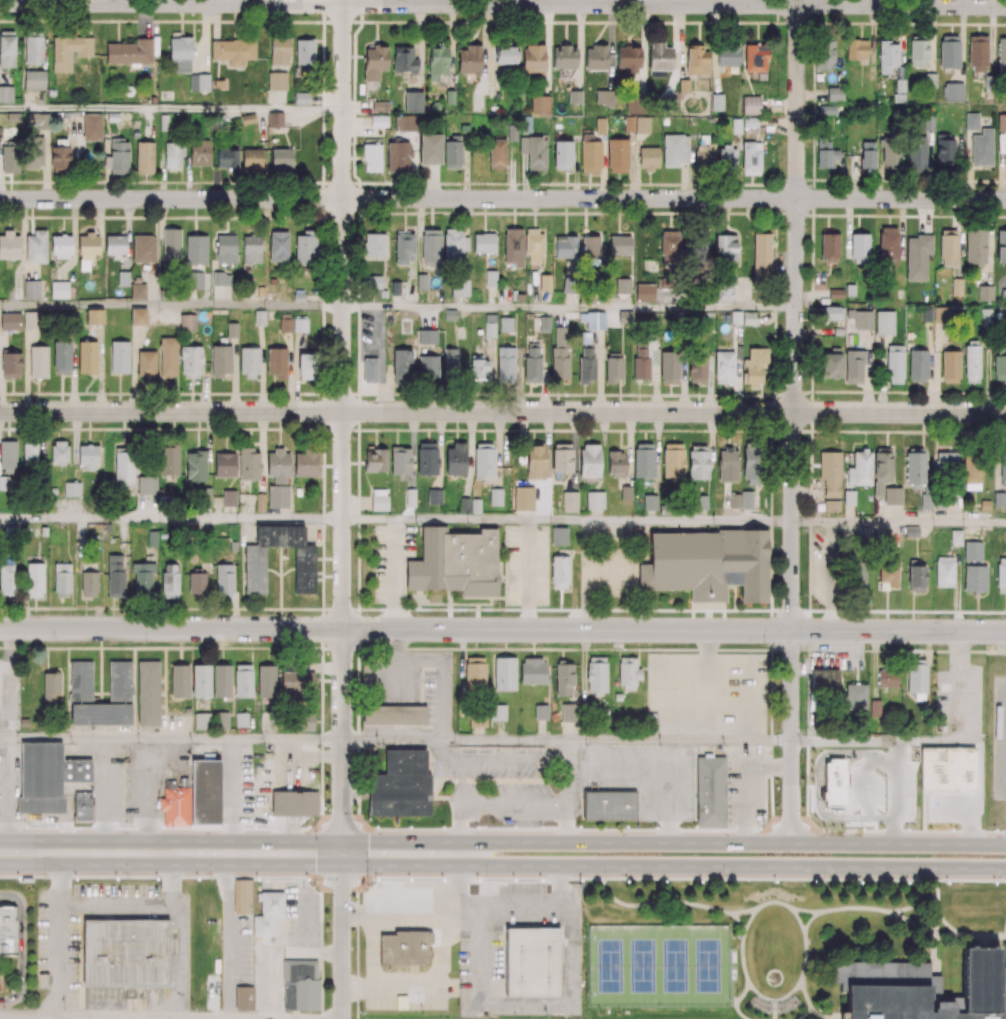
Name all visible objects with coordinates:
road: (503, 5)
building: (34, 79)
building: (5, 93)
road: (171, 110)
building: (13, 116)
building: (112, 116)
building: (92, 127)
road: (503, 199)
building: (170, 244)
building: (35, 247)
building: (143, 248)
building: (917, 257)
building: (123, 279)
building: (956, 286)
building: (31, 289)
building: (59, 289)
road: (171, 307)
road: (569, 308)
building: (849, 314)
building: (94, 316)
building: (138, 317)
building: (259, 317)
building: (863, 320)
building: (10, 321)
building: (186, 322)
building: (884, 322)
building: (231, 329)
building: (86, 357)
building: (119, 357)
building: (38, 361)
road: (503, 411)
road: (792, 421)
road: (343, 426)
road: (171, 428)
building: (455, 459)
building: (224, 464)
building: (626, 493)
building: (892, 495)
building: (203, 496)
building: (277, 496)
building: (434, 496)
building: (495, 496)
building: (410, 497)
building: (848, 497)
building: (228, 498)
building: (523, 498)
building: (594, 499)
building: (746, 499)
building: (998, 499)
building: (649, 501)
building: (259, 502)
building: (463, 503)
building: (984, 504)
building: (475, 505)
building: (831, 505)
road: (171, 518)
road: (566, 520)
road: (898, 521)
building: (911, 531)
building: (558, 536)
building: (955, 537)
building: (972, 551)
building: (708, 564)
road: (170, 607)
road: (503, 629)
building: (504, 674)
building: (221, 681)
building: (200, 682)
road: (958, 686)
building: (148, 694)
building: (617, 696)
building: (497, 712)
building: (540, 712)
building: (397, 717)
building: (220, 720)
building: (241, 720)
building: (200, 721)
road: (566, 738)
road: (171, 740)
road: (874, 741)
building: (948, 770)
building: (46, 778)
building: (859, 778)
building: (400, 786)
road: (566, 791)
building: (713, 792)
building: (207, 794)
road: (148, 797)
building: (175, 805)
building: (294, 805)
building: (83, 806)
building: (611, 806)
street lamp: (115, 825)
street lamp: (427, 825)
street lamp: (314, 827)
street lamp: (522, 827)
street lamp: (637, 827)
street lamp: (982, 827)
street lamp: (220, 828)
street lamp: (753, 829)
street lamp: (866, 829)
road: (728, 842)
road: (26, 852)
road: (196, 853)
traffic signals: (319, 853)
traffic signals: (367, 853)
road: (397, 853)
road: (728, 864)
street lamp: (43, 878)
street lamp: (153, 879)
street lamp: (260, 879)
street lamp: (369, 879)
street lamp: (466, 880)
street lamp: (583, 881)
road: (454, 882)
street lamp: (695, 882)
street lamp: (809, 882)
street lamp: (912, 883)
building: (243, 897)
road: (116, 906)
road: (475, 910)
building: (268, 915)
building: (9, 931)
road: (181, 934)
road: (58, 935)
road: (341, 936)
building: (405, 948)
building: (125, 954)
building: (533, 964)
park: (607, 965)
park: (642, 965)
park: (675, 965)
park: (710, 965)
building: (304, 986)
road: (429, 987)
building: (922, 989)
building: (247, 1000)
road: (90, 1018)

